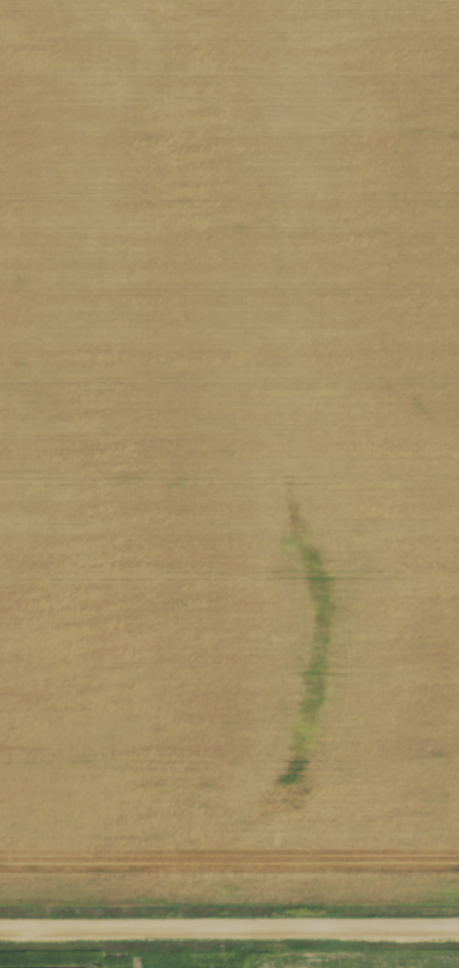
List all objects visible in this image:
road: (229, 929)

